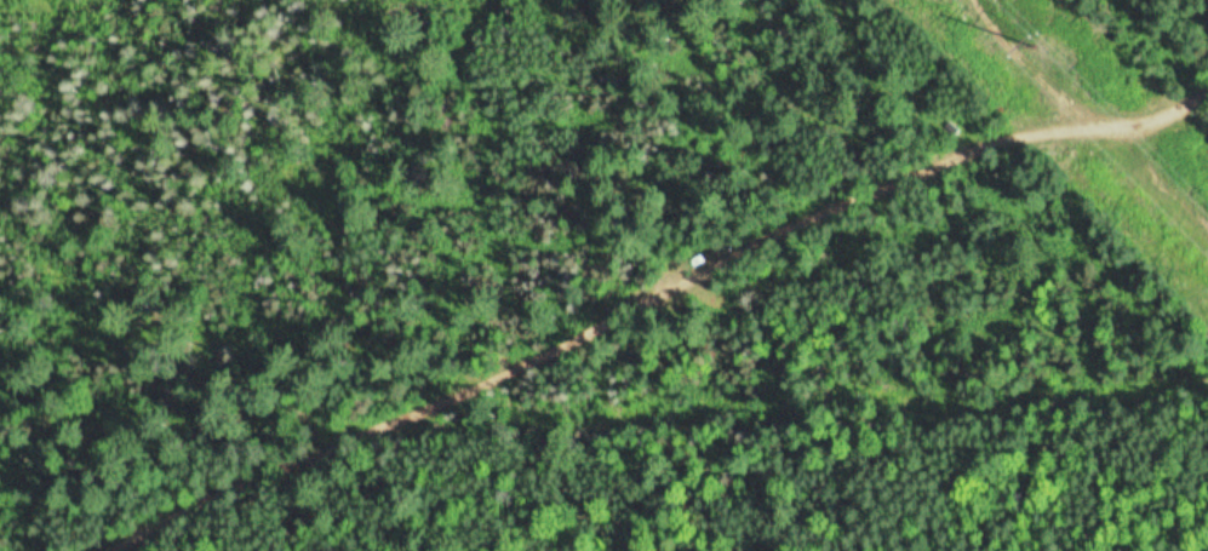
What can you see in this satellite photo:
power tower: (1036, 44)
road: (1103, 61)
road: (671, 304)

